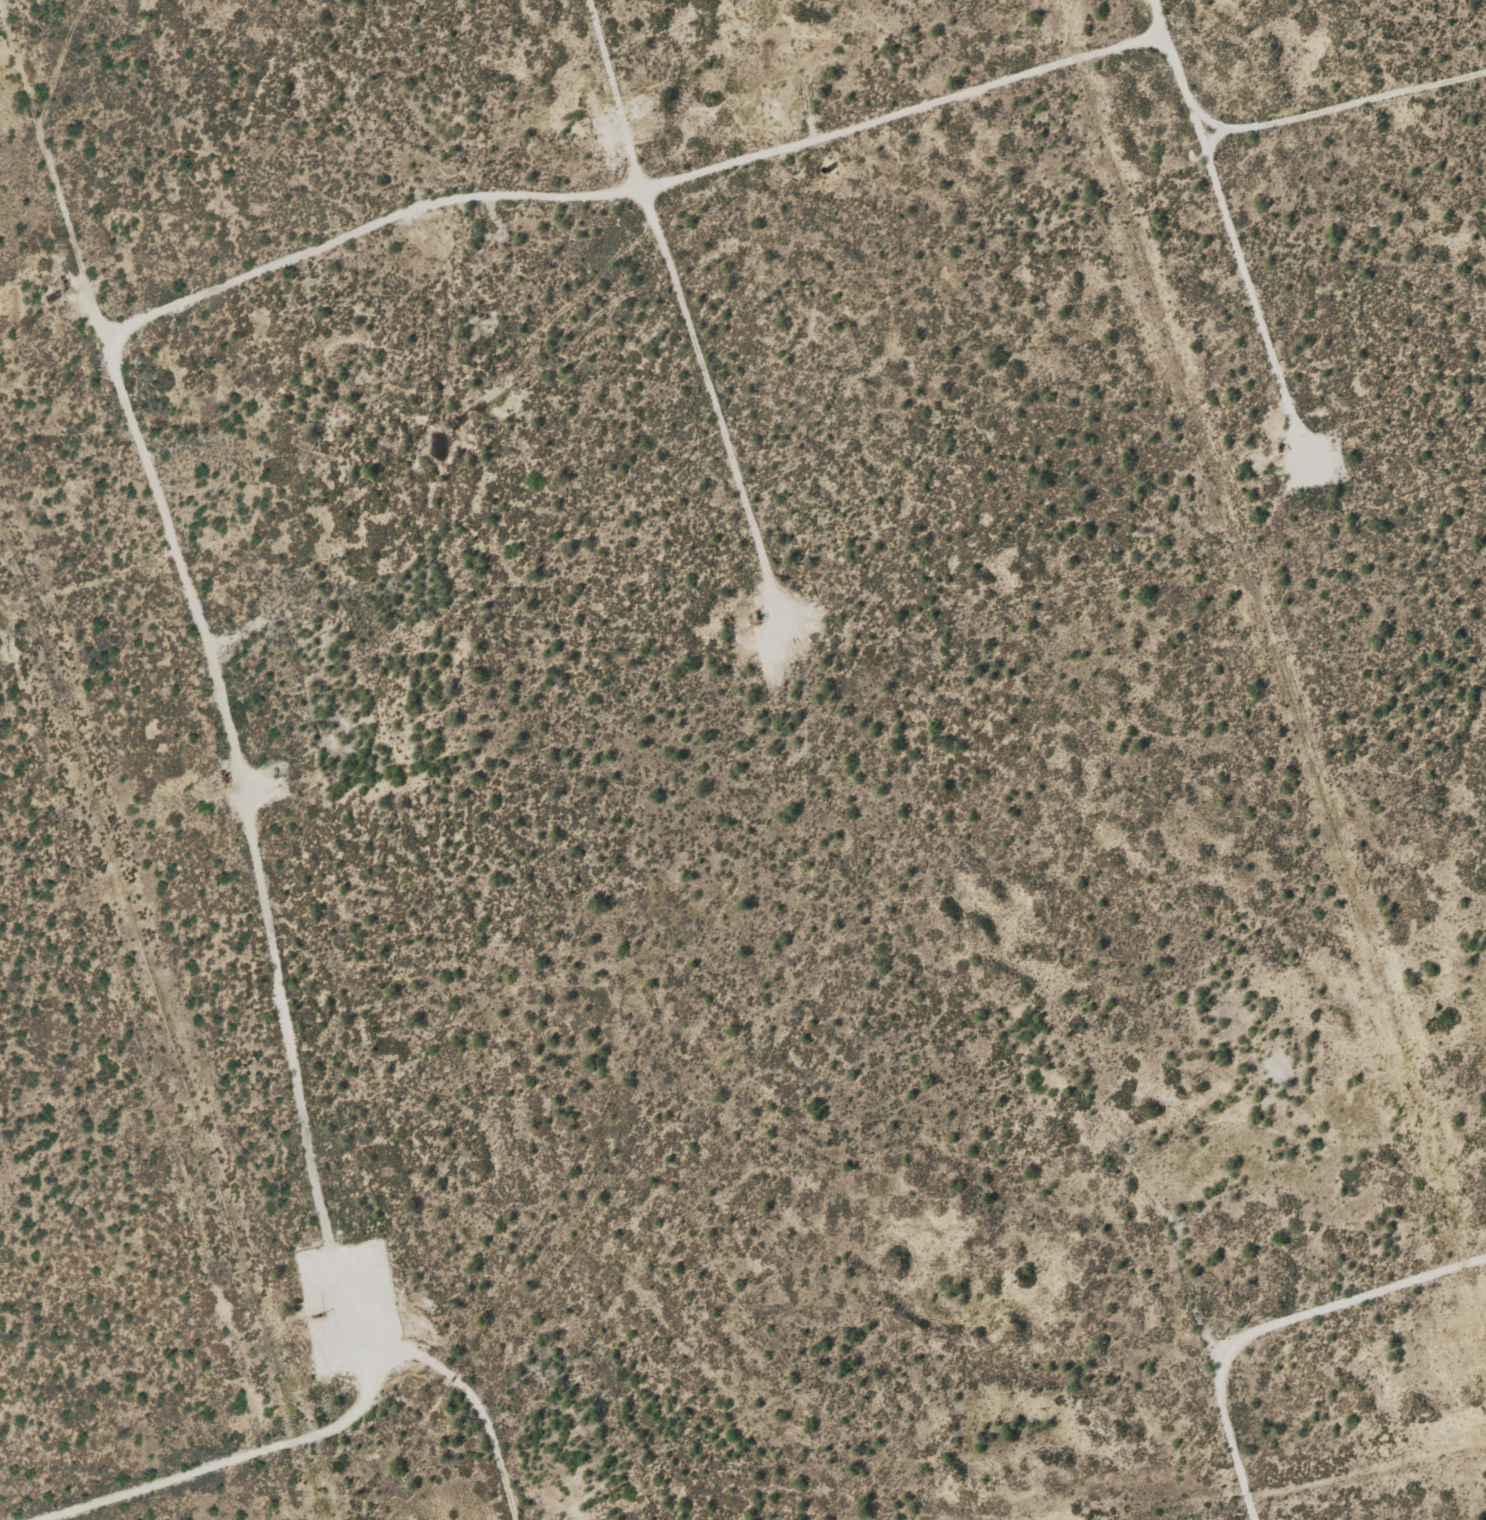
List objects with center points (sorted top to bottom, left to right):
road: (1276, 121)
road: (630, 189)
road: (678, 322)
road: (230, 786)
road: (1300, 1348)
road: (272, 1455)

